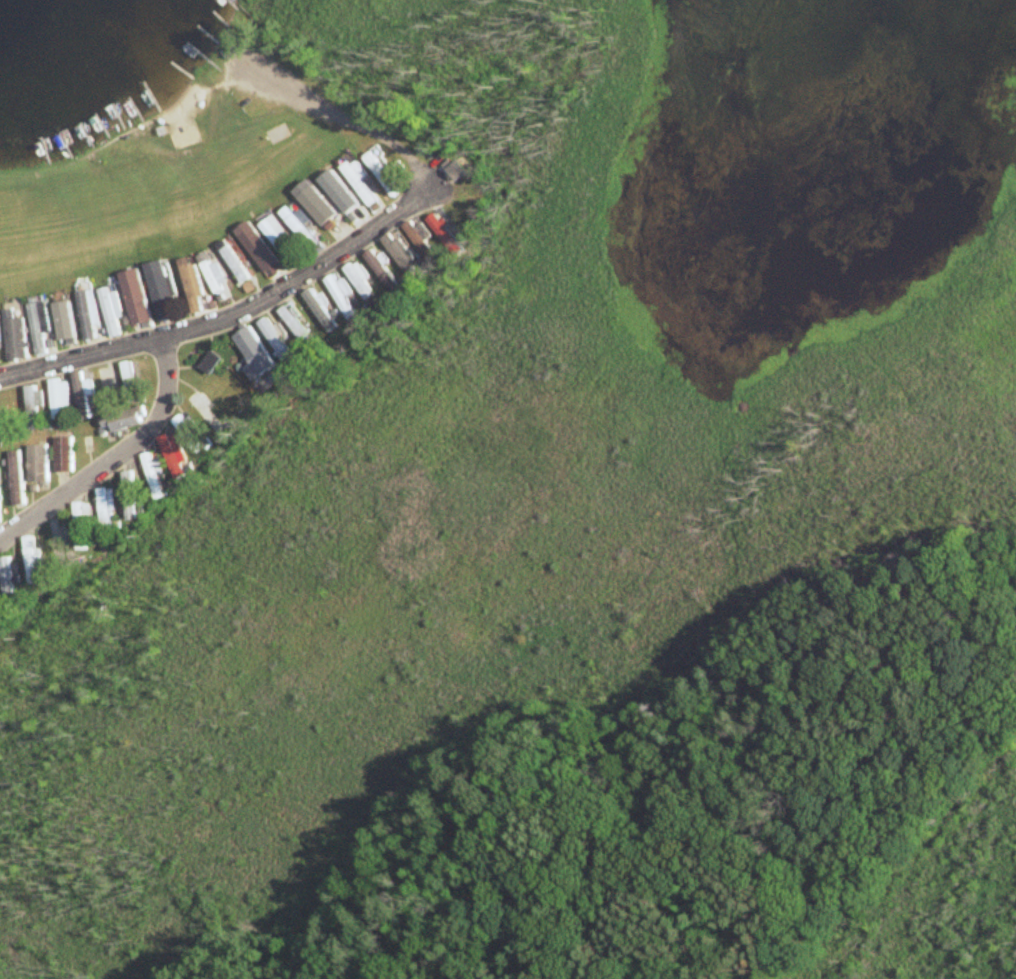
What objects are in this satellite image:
road: (331, 105)
building: (458, 171)
building: (381, 174)
building: (358, 184)
building: (338, 199)
building: (316, 206)
building: (297, 227)
building: (446, 235)
building: (276, 239)
building: (255, 247)
building: (399, 253)
building: (233, 261)
building: (212, 275)
building: (359, 280)
building: (158, 288)
building: (191, 288)
building: (133, 297)
building: (108, 311)
building: (86, 314)
road: (230, 314)
building: (292, 322)
building: (62, 324)
building: (38, 328)
building: (13, 335)
building: (273, 339)
building: (252, 351)
building: (207, 361)
building: (126, 382)
building: (105, 387)
building: (79, 395)
building: (57, 397)
building: (32, 406)
building: (7, 412)
building: (204, 414)
building: (119, 421)
building: (188, 433)
building: (171, 453)
building: (61, 455)
road: (115, 457)
building: (153, 477)
building: (15, 478)
building: (105, 509)
building: (79, 526)
building: (32, 560)
building: (7, 581)

